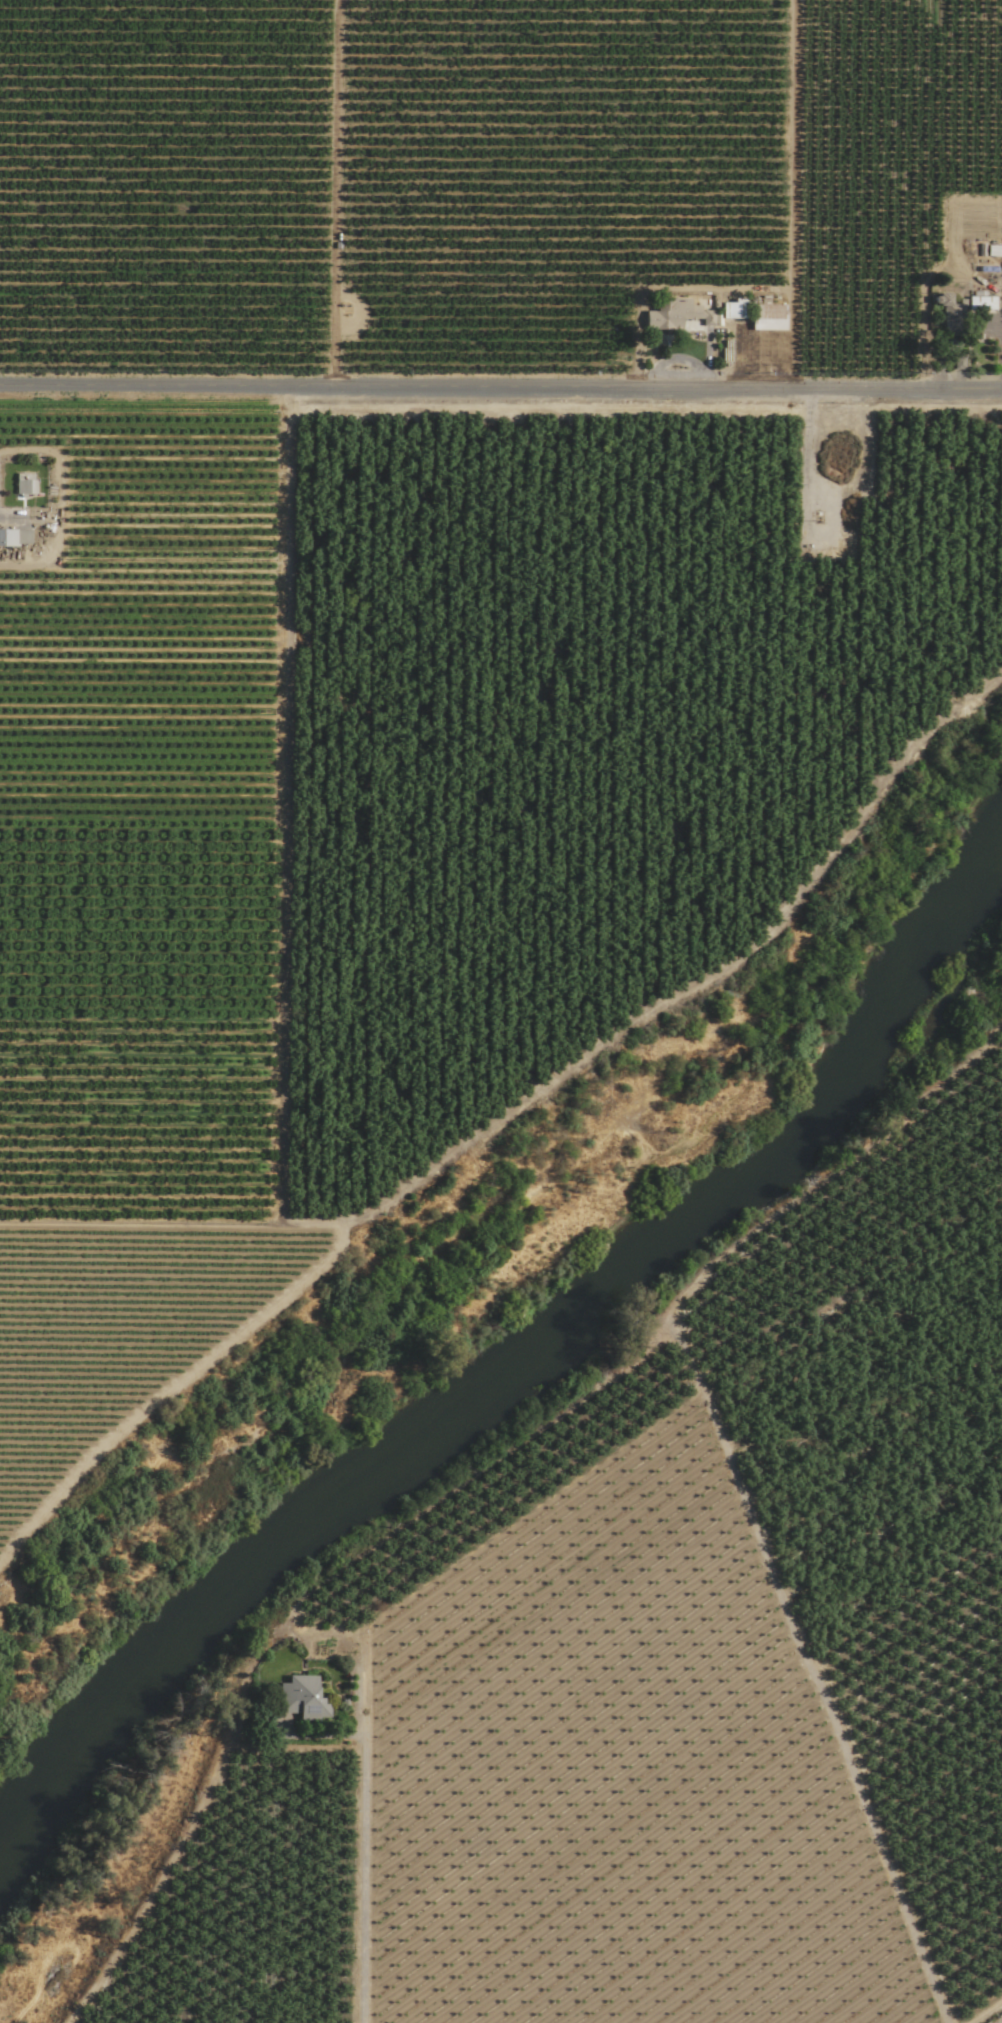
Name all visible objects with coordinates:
building: (981, 302)
building: (949, 306)
building: (733, 308)
building: (675, 314)
building: (767, 316)
road: (501, 384)
building: (25, 483)
road: (10, 519)
building: (15, 537)
crop: (436, 584)
crop: (658, 1663)
building: (301, 1697)
road: (365, 1870)

